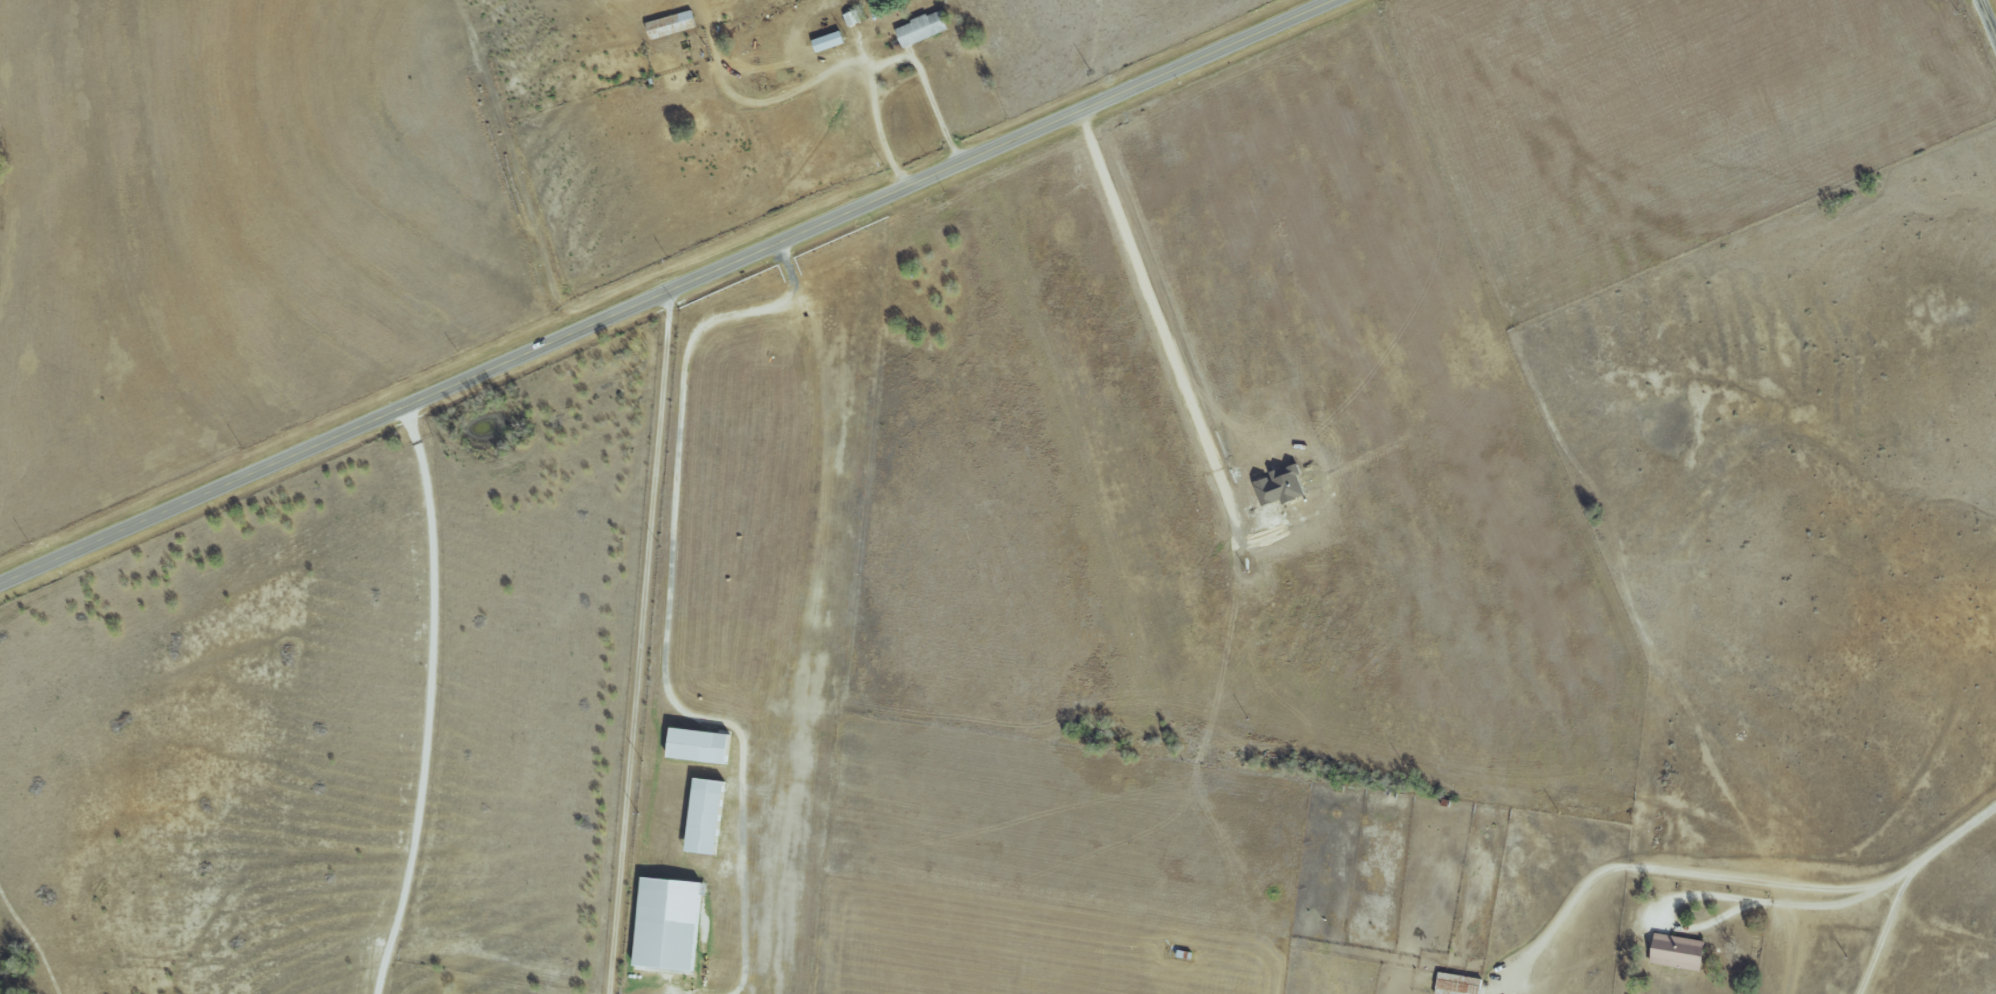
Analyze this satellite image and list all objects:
road: (1988, 17)
building: (672, 25)
building: (923, 28)
building: (830, 41)
road: (887, 60)
road: (775, 66)
road: (768, 99)
road: (666, 292)
airport runway: (847, 296)
road: (664, 604)
road: (636, 643)
airport runway: (813, 653)
road: (430, 701)
building: (701, 744)
road: (1934, 849)
road: (1658, 872)
road: (1711, 895)
building: (670, 924)
road: (1883, 932)
building: (1679, 951)

